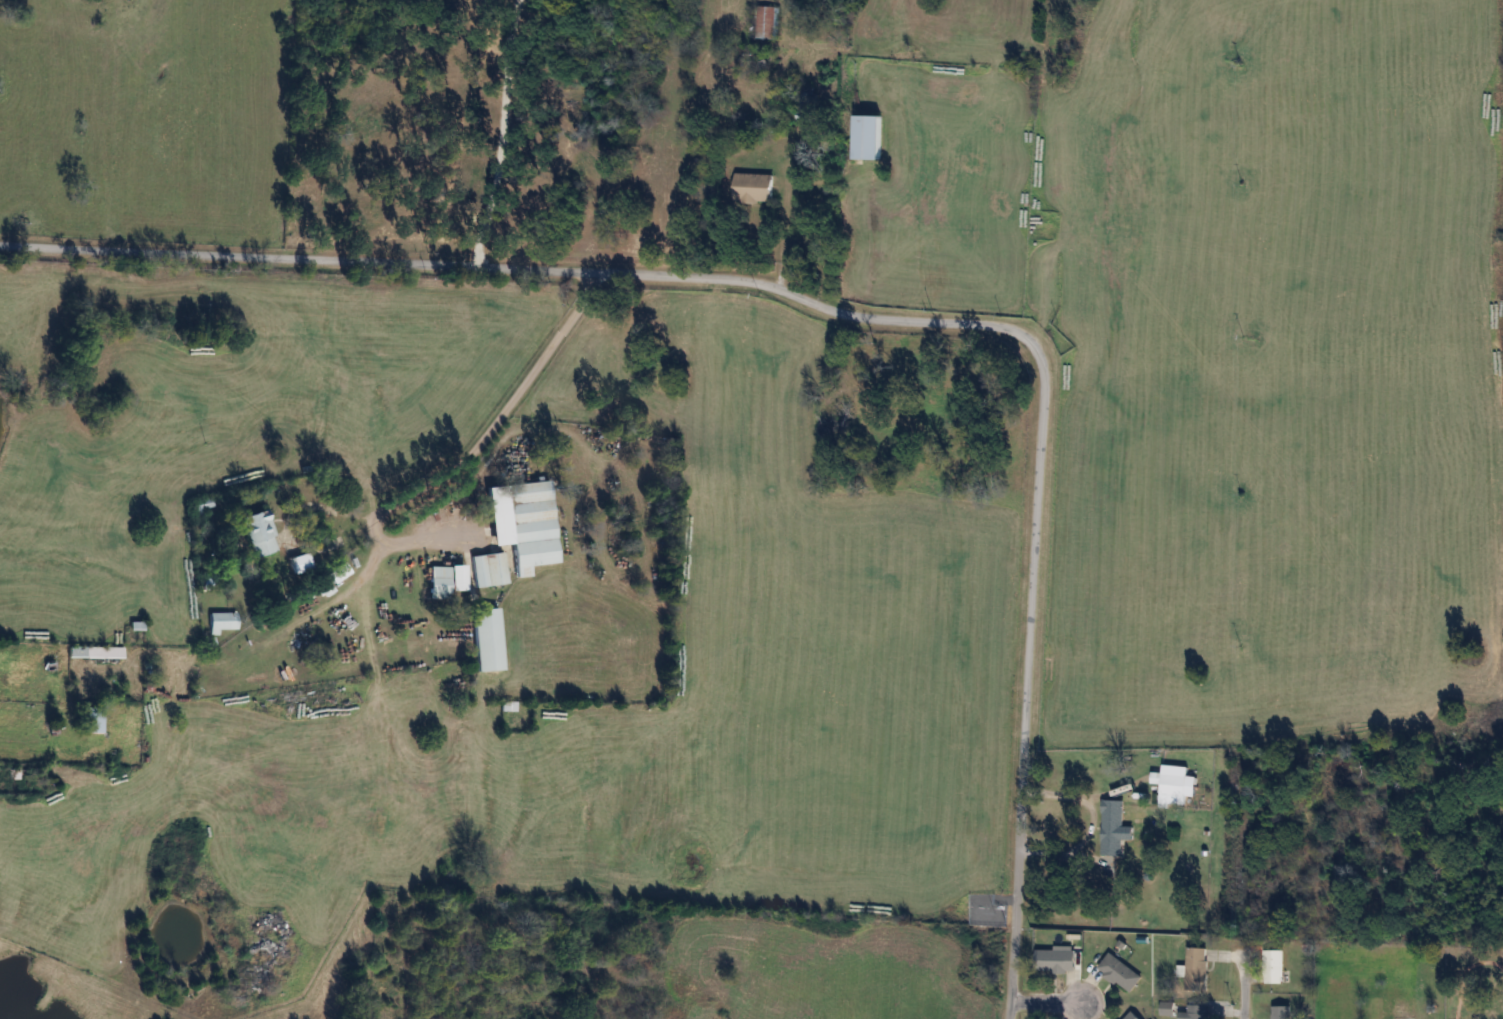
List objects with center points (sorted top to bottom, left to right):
building: (767, 22)
building: (808, 109)
road: (502, 134)
building: (868, 138)
building: (753, 188)
road: (782, 241)
road: (525, 269)
road: (482, 440)
building: (526, 523)
building: (261, 534)
building: (301, 563)
building: (490, 570)
building: (339, 572)
building: (447, 581)
building: (326, 589)
building: (223, 622)
building: (489, 640)
building: (96, 653)
road: (1025, 683)
building: (93, 720)
building: (1172, 784)
building: (1112, 827)
building: (1056, 960)
building: (1274, 965)
building: (1197, 968)
building: (1120, 972)
road: (1242, 986)
road: (1045, 1002)
building: (1194, 1012)
building: (1281, 1012)
building: (1403, 1012)
building: (1132, 1015)

